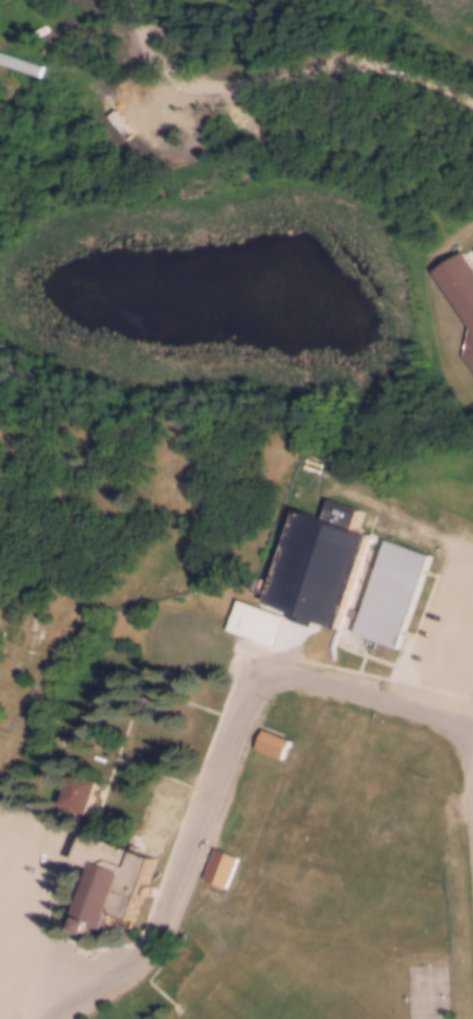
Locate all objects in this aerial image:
building: (461, 289)
building: (317, 565)
building: (391, 591)
building: (352, 610)
building: (253, 618)
park: (33, 629)
building: (192, 638)
road: (450, 658)
building: (150, 734)
building: (271, 741)
road: (223, 769)
building: (76, 788)
building: (157, 814)
building: (219, 865)
park: (326, 878)
building: (110, 879)
building: (271, 887)
road: (35, 981)
park: (429, 990)
road: (23, 998)

